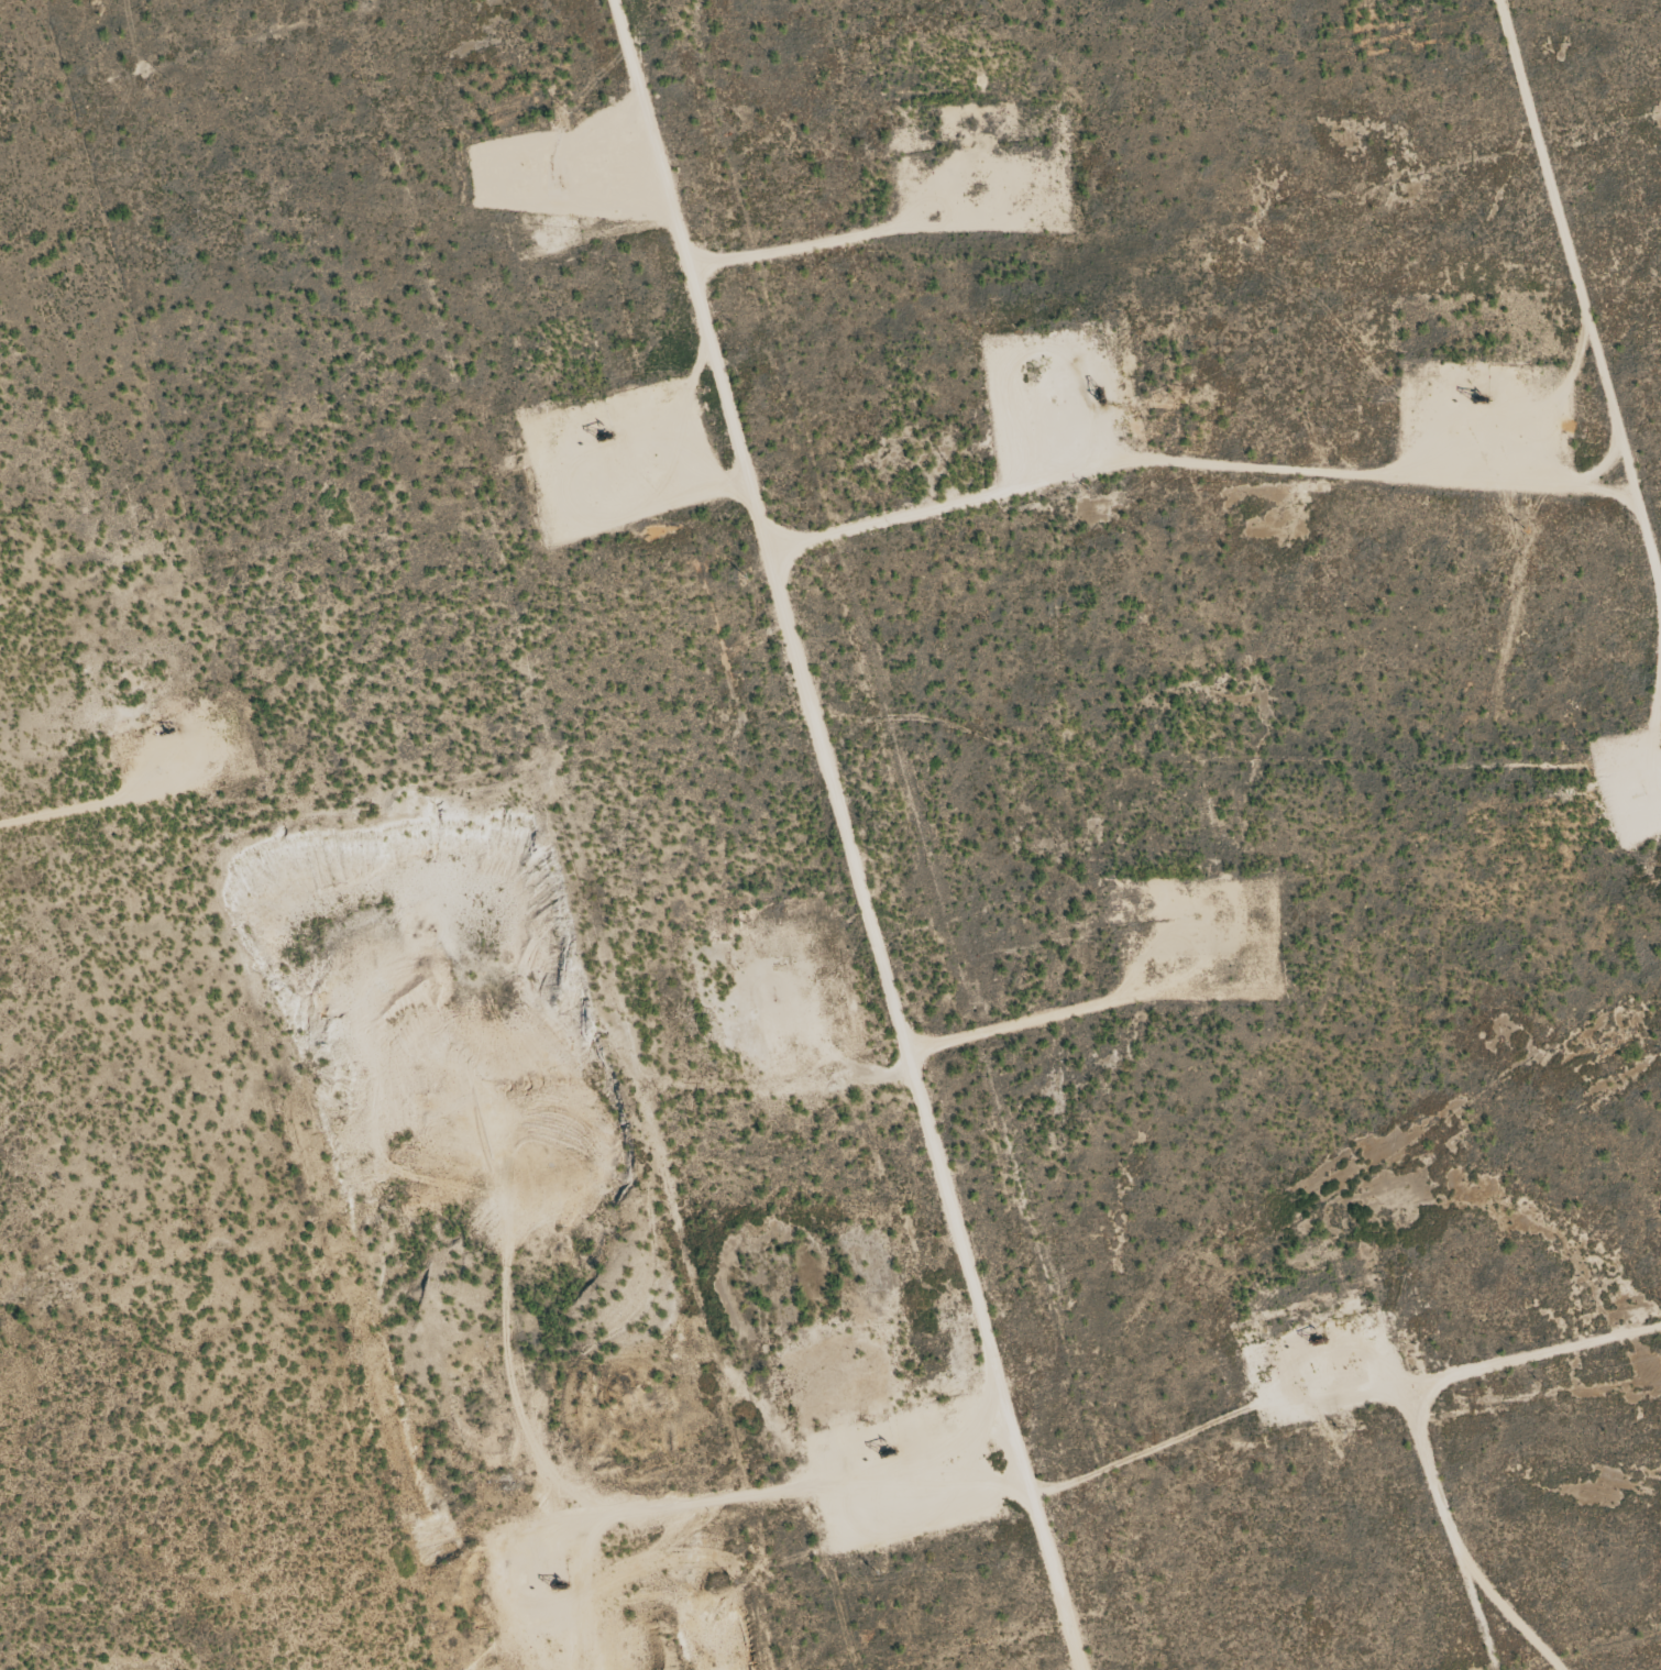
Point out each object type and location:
road: (1431, 473)
road: (843, 834)

